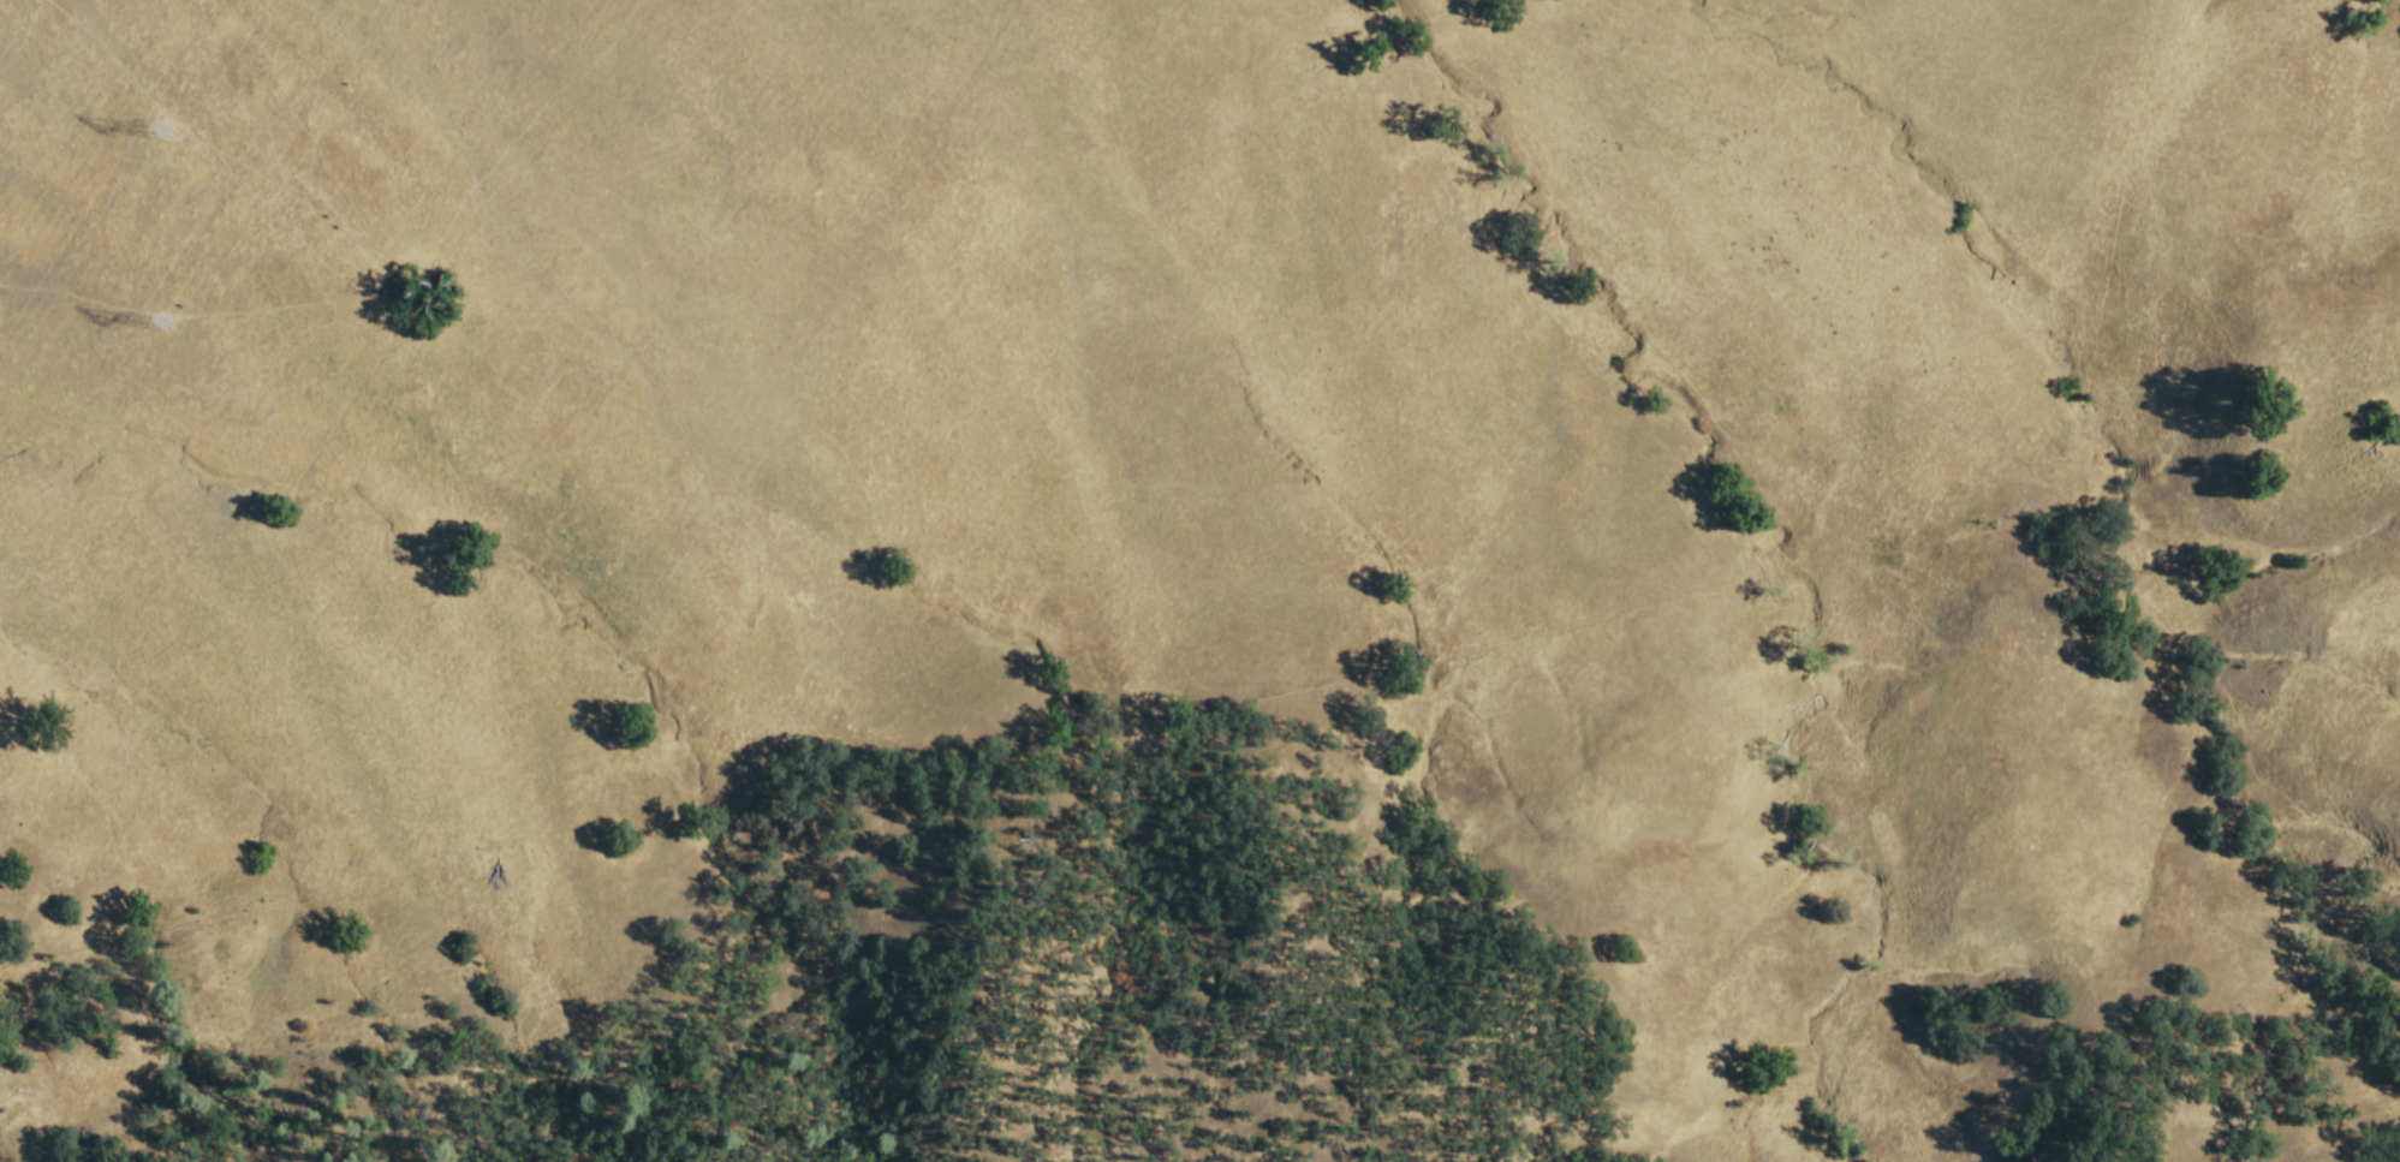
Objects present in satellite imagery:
power tower: (165, 131)
power tower: (159, 323)

